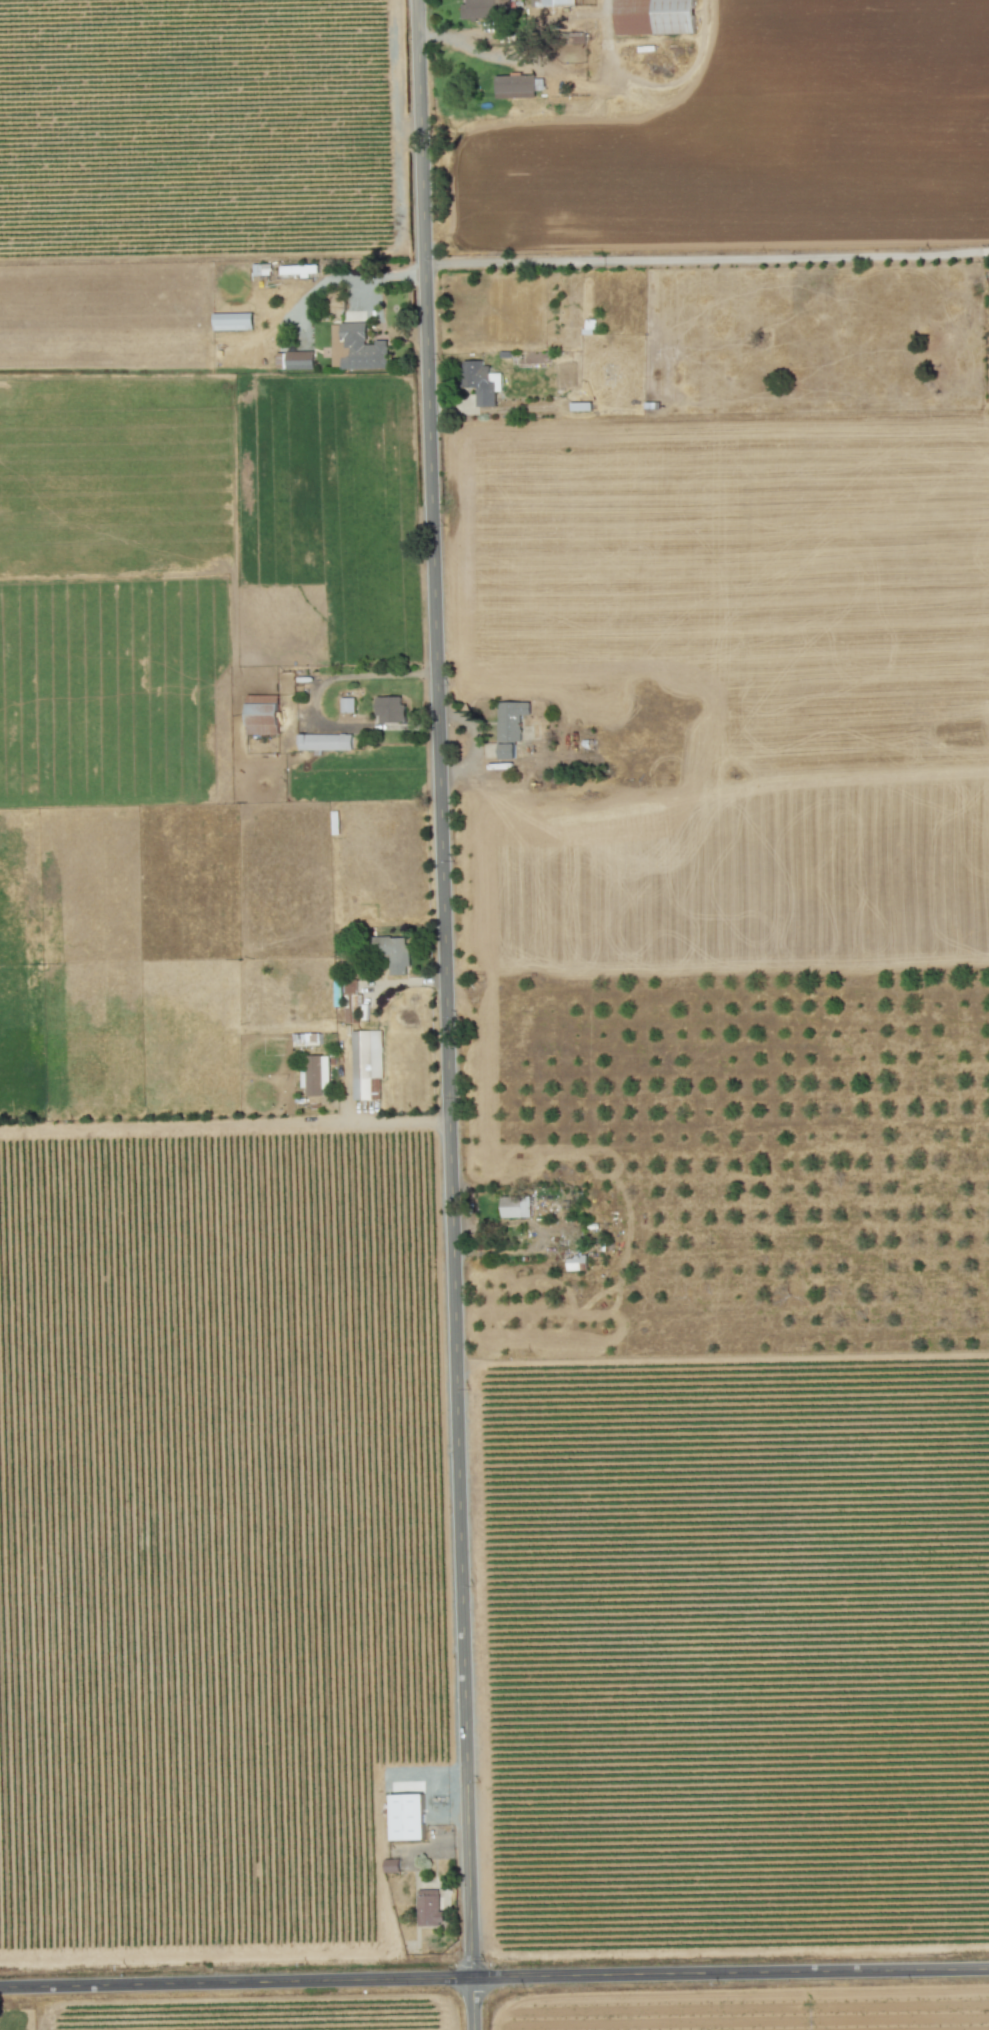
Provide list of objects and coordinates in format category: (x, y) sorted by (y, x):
building: (554, 3)
building: (487, 9)
building: (653, 17)
road: (521, 52)
building: (514, 86)
road: (707, 260)
building: (298, 270)
road: (382, 277)
building: (232, 321)
building: (356, 348)
building: (298, 360)
building: (481, 382)
building: (347, 705)
building: (390, 710)
building: (261, 715)
building: (509, 727)
building: (324, 742)
building: (392, 953)
building: (350, 987)
road: (447, 1014)
building: (305, 1039)
building: (365, 1062)
building: (316, 1075)
road: (225, 1122)
building: (515, 1207)
road: (497, 1250)
building: (576, 1263)
building: (407, 1817)
building: (428, 1908)
road: (494, 1980)

